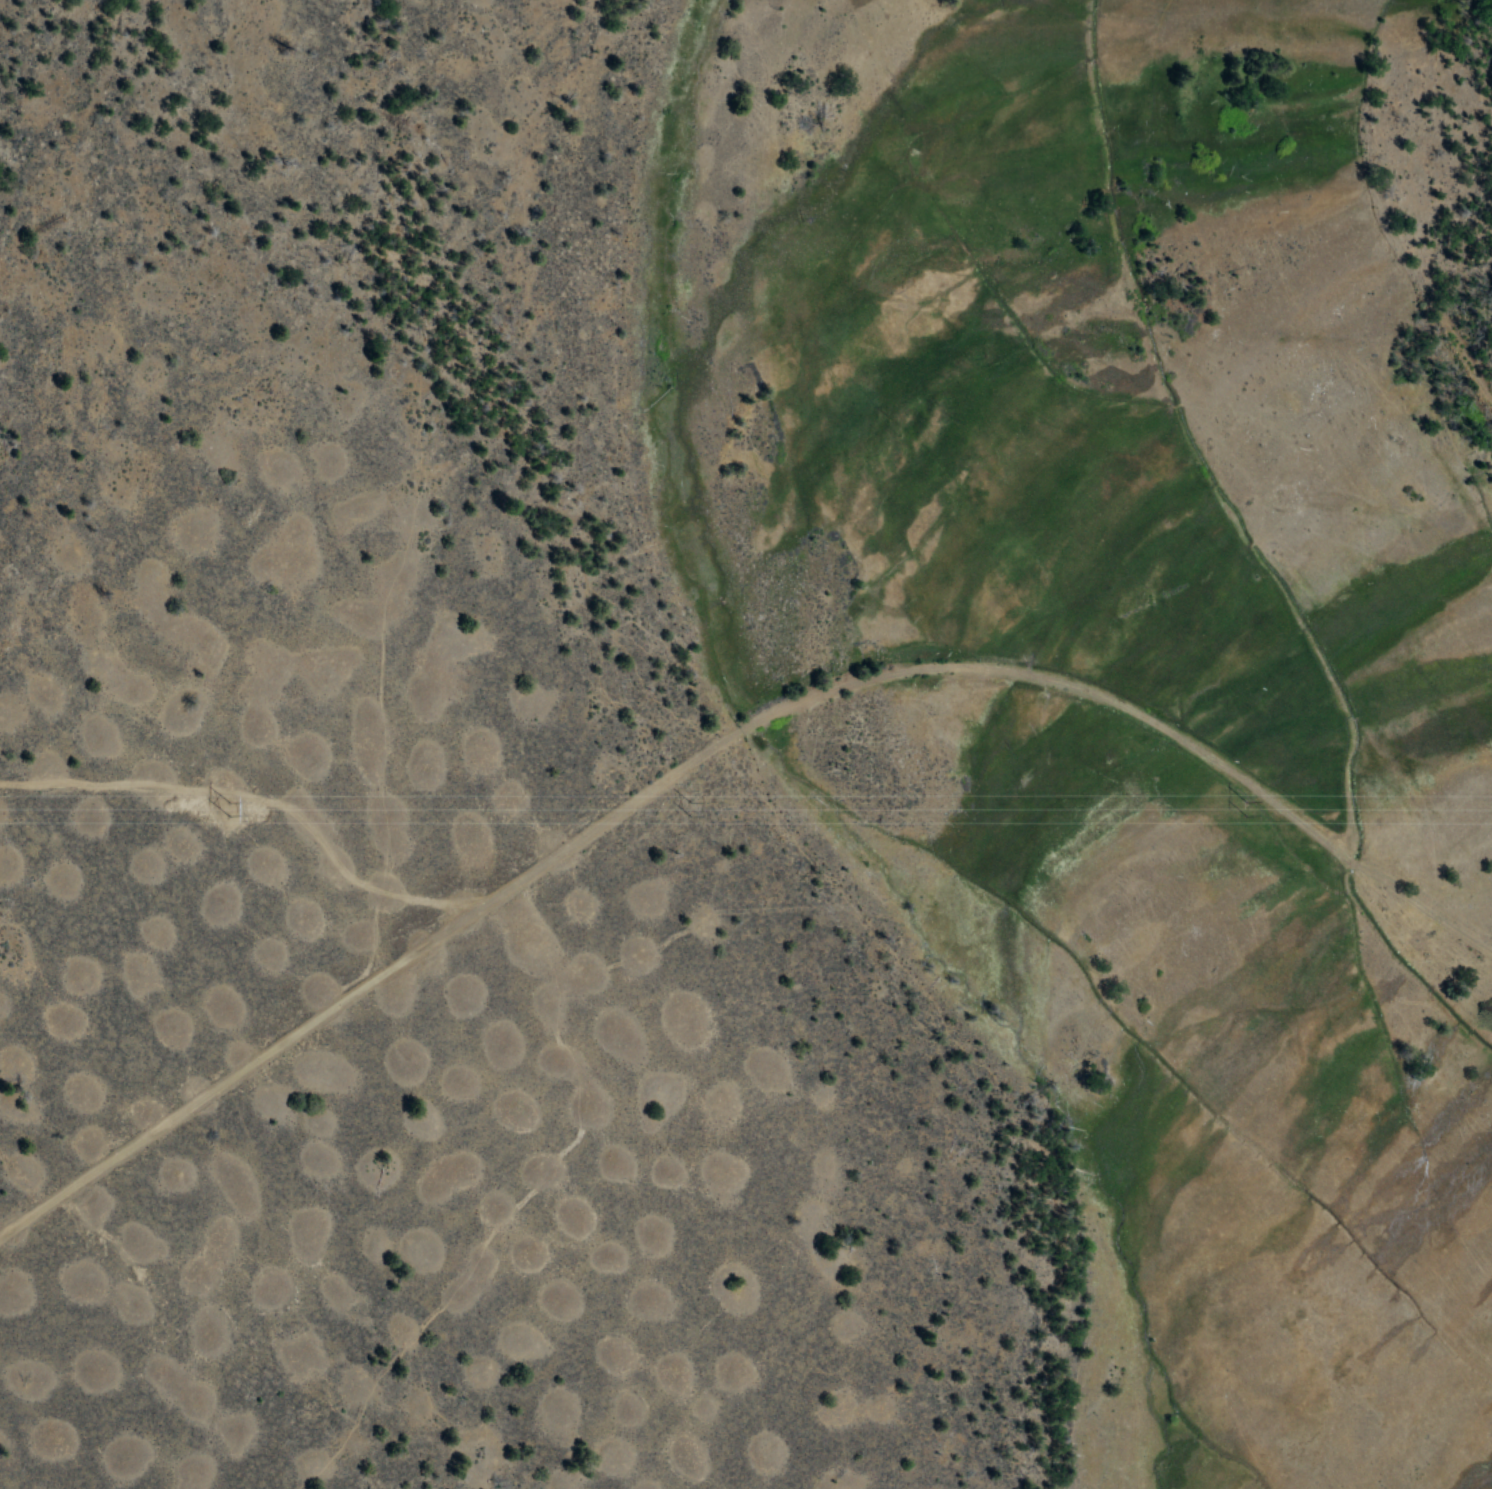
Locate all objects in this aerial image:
power tower: (1246, 804)
power tower: (690, 805)
power tower: (228, 806)

